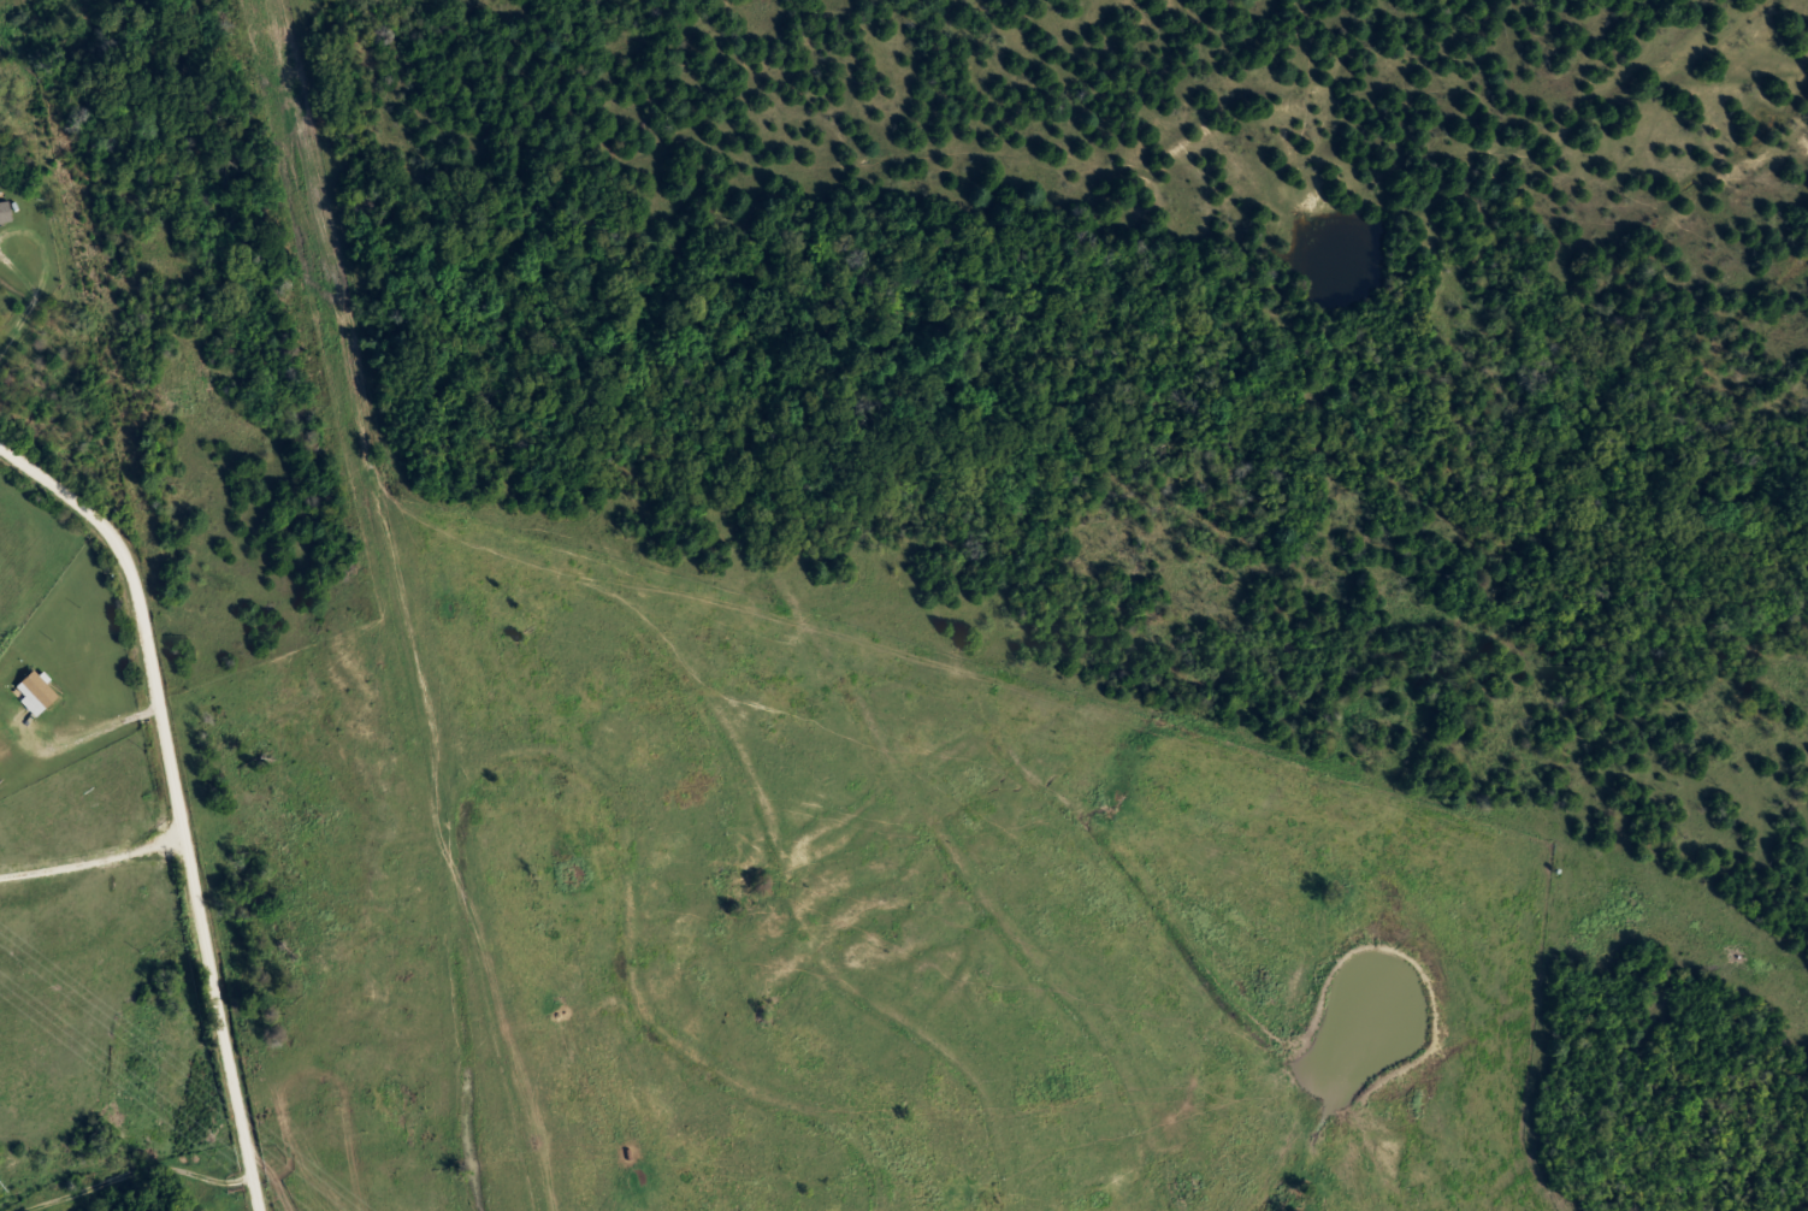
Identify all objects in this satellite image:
building: (2, 211)
road: (176, 799)
road: (131, 1174)

